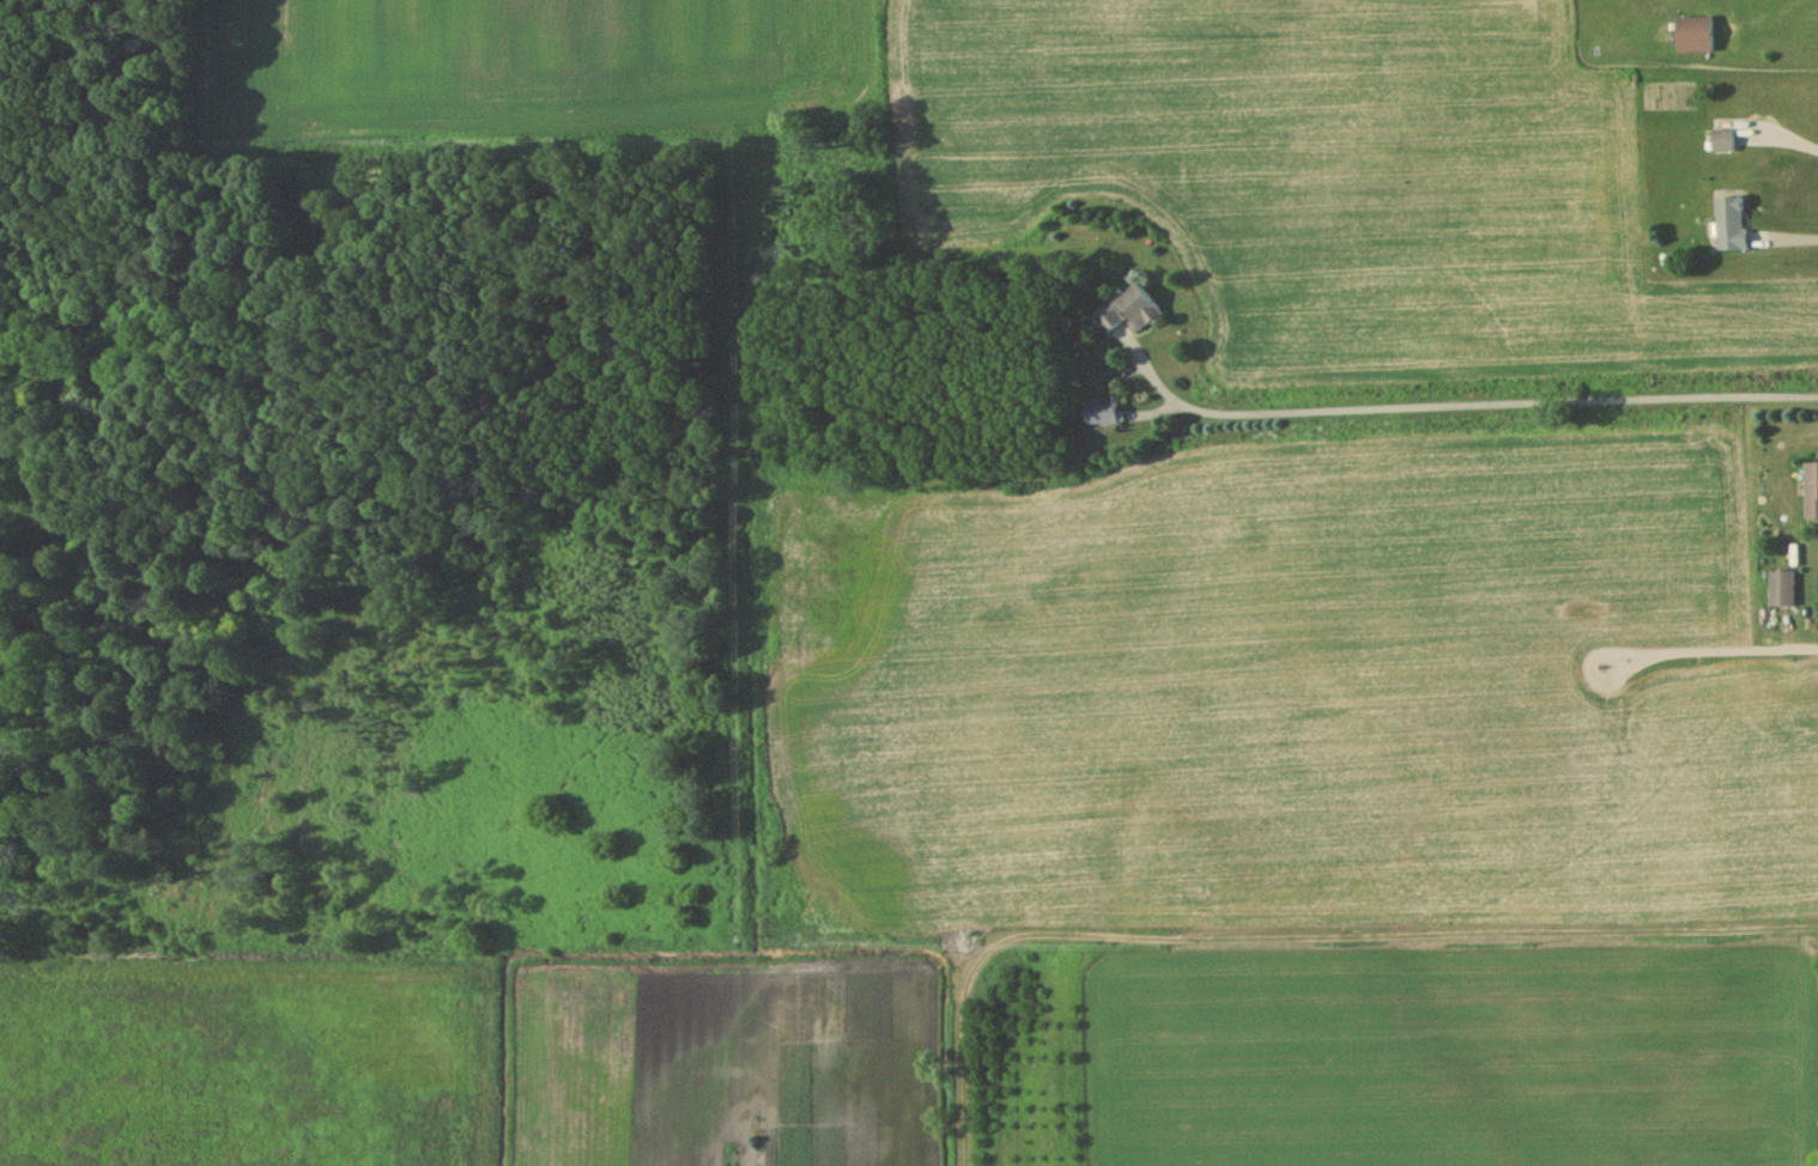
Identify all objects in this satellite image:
building: (1696, 38)
building: (1725, 144)
road: (1798, 224)
building: (1734, 226)
building: (1131, 315)
road: (1459, 403)
building: (1102, 414)
building: (1811, 493)
building: (1781, 591)
road: (1726, 637)
road: (1293, 940)

